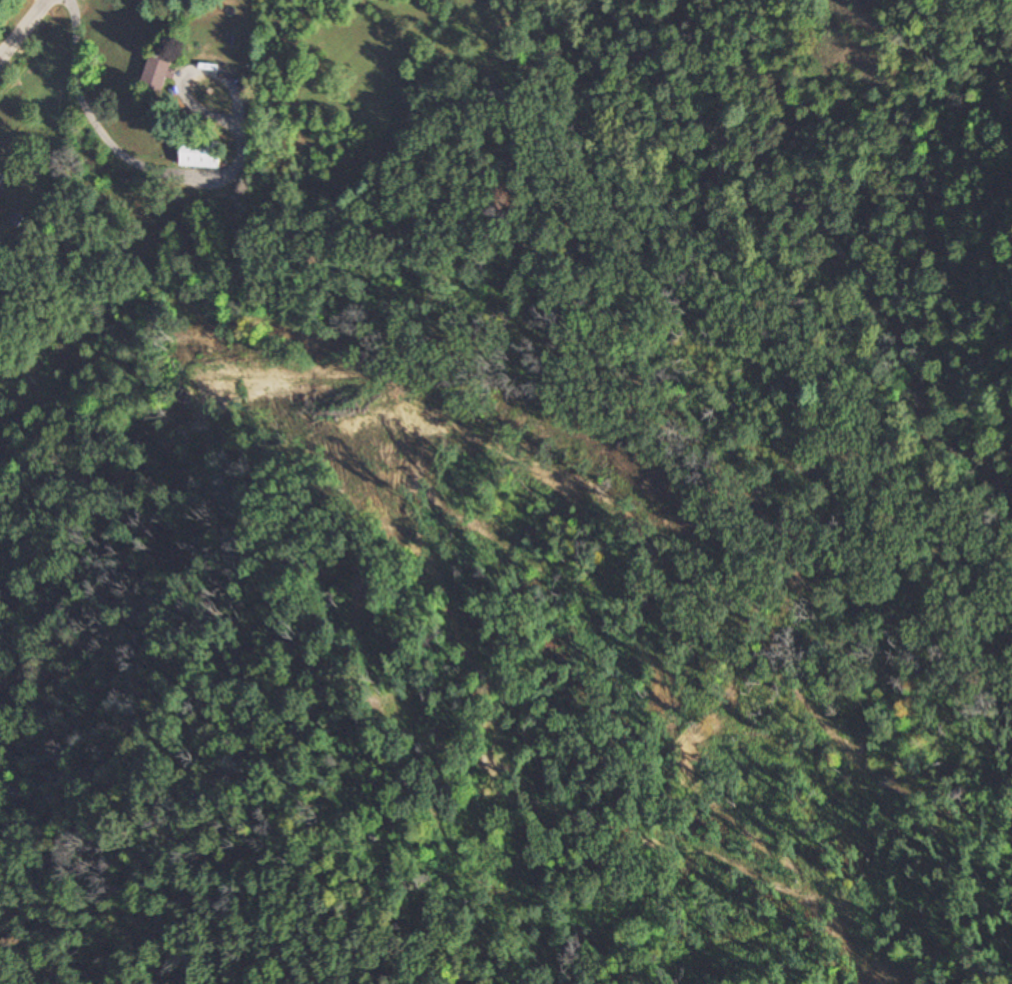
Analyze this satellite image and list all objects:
road: (28, 24)
road: (197, 67)
building: (158, 73)
road: (126, 150)
building: (201, 153)
building: (1, 177)

